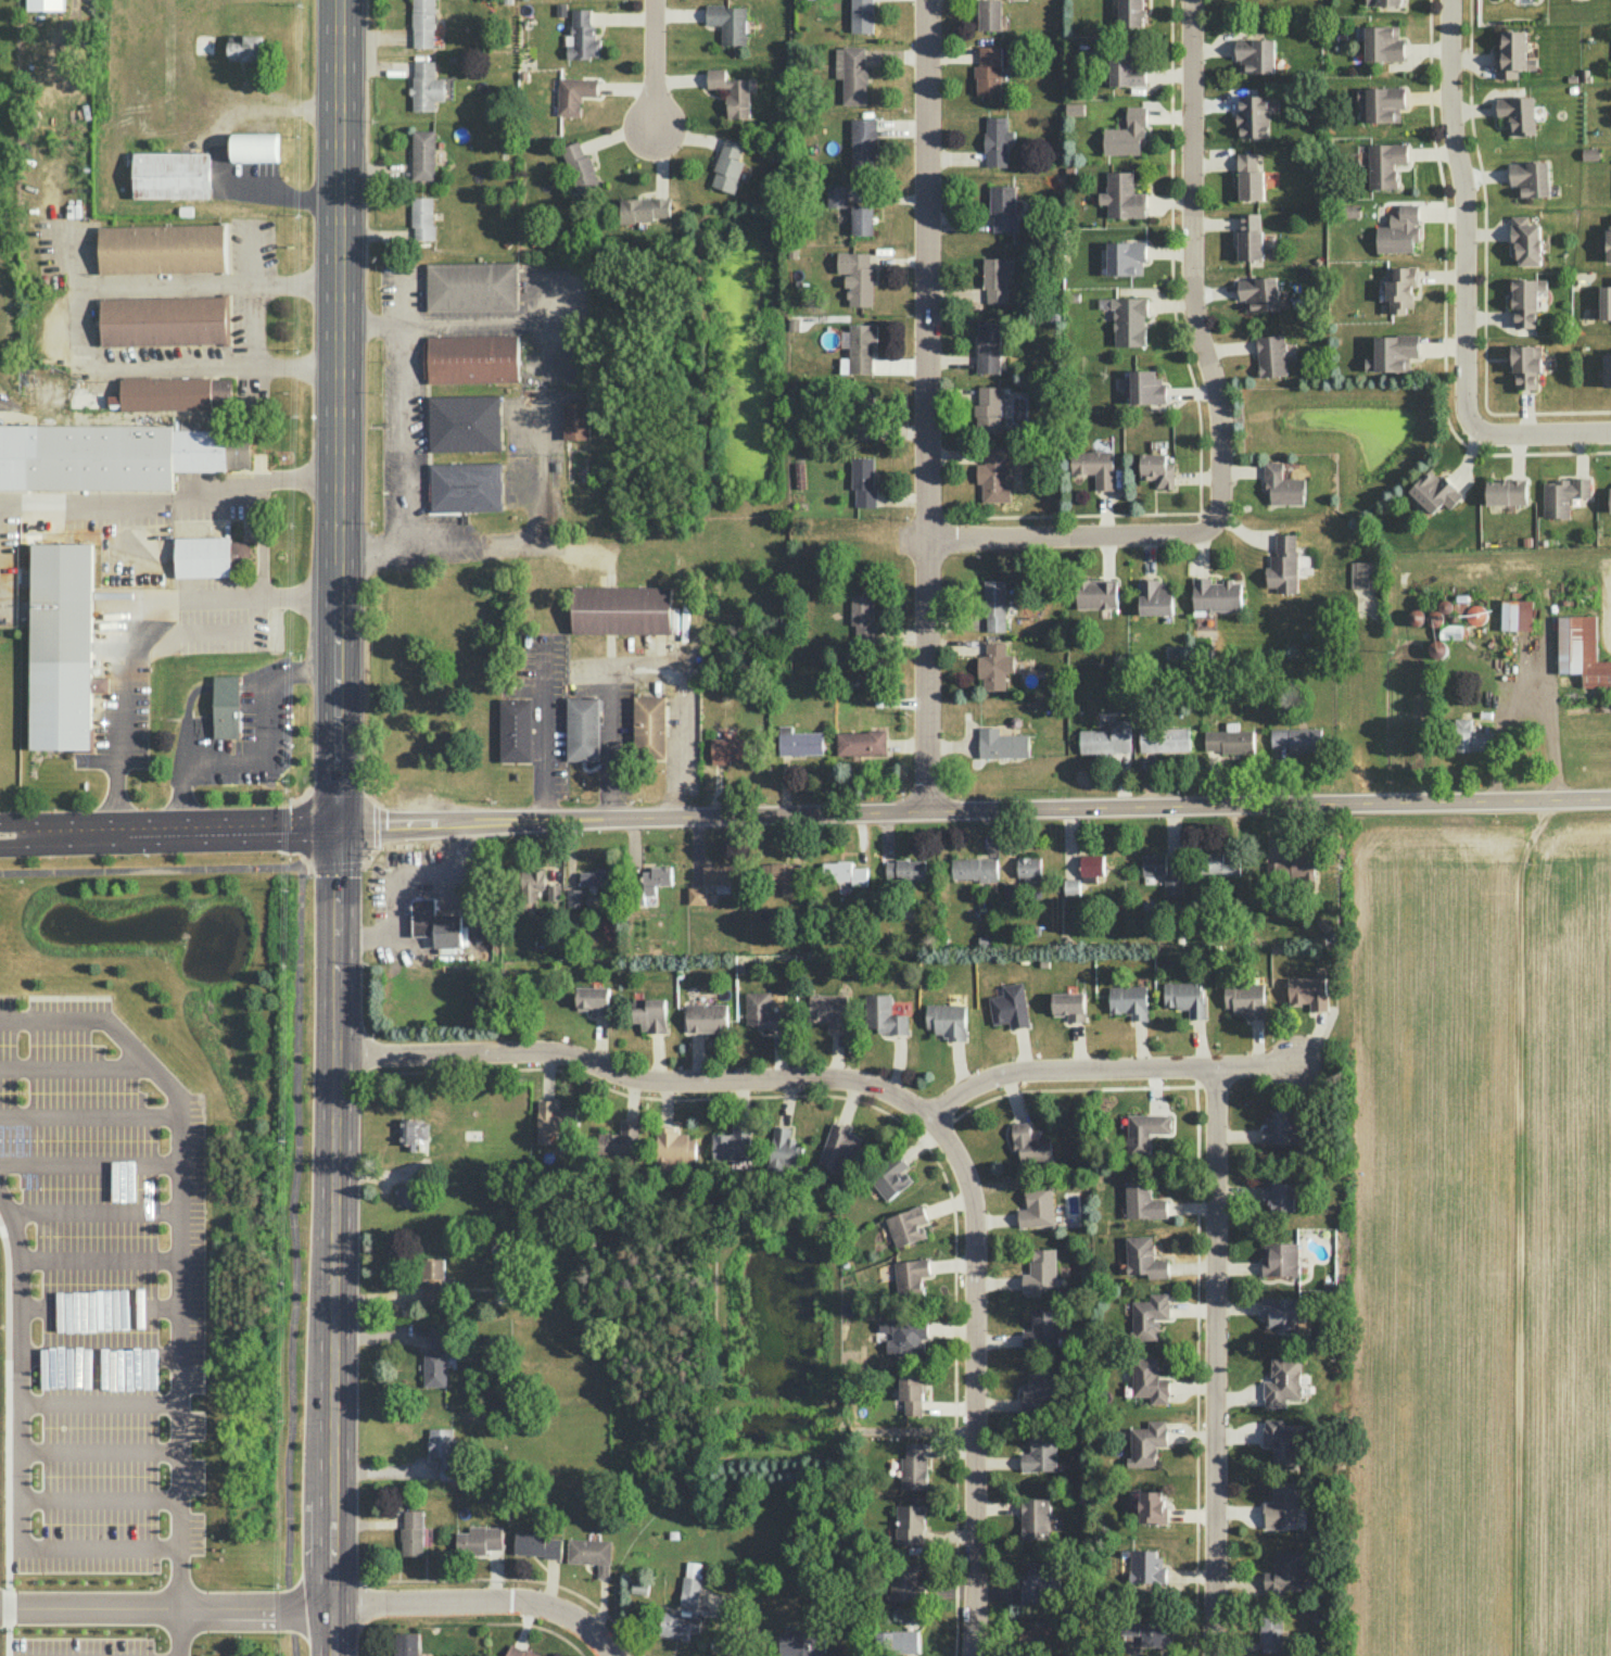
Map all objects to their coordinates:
building: (1383, 2)
building: (45, 4)
building: (1130, 13)
building: (989, 14)
building: (861, 15)
building: (728, 22)
building: (423, 23)
building: (582, 36)
building: (1383, 43)
building: (248, 48)
road: (1212, 49)
building: (1254, 54)
building: (1510, 54)
road: (951, 58)
building: (1126, 65)
road: (654, 66)
building: (988, 68)
building: (854, 75)
road: (1167, 76)
building: (424, 86)
building: (732, 91)
building: (573, 93)
road: (1214, 103)
building: (1383, 103)
building: (1074, 109)
building: (1518, 113)
road: (1167, 116)
building: (1252, 116)
building: (1126, 132)
building: (863, 141)
building: (997, 141)
road: (215, 147)
building: (255, 147)
building: (1590, 153)
building: (422, 154)
road: (955, 159)
road: (1213, 160)
building: (1384, 163)
building: (728, 165)
building: (581, 169)
building: (172, 175)
building: (1250, 176)
building: (1530, 178)
building: (837, 195)
building: (1121, 195)
road: (1168, 203)
building: (1003, 207)
building: (643, 208)
building: (422, 217)
road: (1464, 217)
building: (1610, 217)
building: (862, 219)
road: (959, 220)
road: (1215, 223)
building: (1398, 230)
building: (1250, 239)
building: (1524, 240)
building: (1608, 242)
building: (163, 249)
road: (1168, 252)
road: (252, 257)
building: (1125, 257)
road: (1170, 257)
road: (80, 261)
road: (1191, 263)
building: (857, 276)
building: (994, 279)
building: (472, 287)
building: (1400, 288)
road: (169, 289)
road: (1214, 290)
road: (1140, 291)
road: (955, 292)
building: (1258, 293)
building: (1074, 298)
building: (1524, 302)
building: (1606, 302)
road: (1168, 303)
road: (1152, 317)
building: (164, 320)
building: (1128, 320)
road: (464, 323)
road: (253, 329)
building: (861, 346)
building: (988, 346)
road: (1229, 349)
building: (1393, 352)
building: (1270, 355)
building: (471, 358)
road: (950, 362)
building: (1524, 364)
road: (166, 369)
building: (1607, 369)
road: (295, 370)
building: (1146, 388)
road: (1190, 392)
building: (173, 393)
road: (924, 406)
building: (987, 409)
road: (402, 412)
road: (338, 415)
building: (862, 415)
building: (575, 420)
building: (465, 424)
road: (1544, 432)
building: (112, 455)
road: (953, 455)
building: (1093, 466)
building: (1156, 469)
road: (1241, 472)
building: (799, 475)
building: (991, 475)
road: (1196, 479)
building: (863, 480)
building: (1282, 484)
building: (466, 486)
building: (1434, 491)
building: (1506, 491)
building: (1562, 495)
building: (1609, 497)
road: (170, 505)
road: (1105, 510)
road: (1073, 514)
road: (1246, 529)
road: (1069, 532)
road: (259, 538)
road: (500, 540)
road: (1200, 554)
road: (0, 555)
road: (1149, 555)
building: (208, 556)
road: (1105, 556)
building: (1283, 565)
building: (1362, 574)
building: (1098, 594)
building: (1216, 595)
building: (1154, 597)
building: (994, 605)
building: (621, 609)
building: (1474, 614)
building: (1517, 615)
building: (863, 618)
road: (135, 624)
building: (62, 646)
building: (1581, 650)
road: (650, 666)
building: (994, 666)
building: (227, 706)
building: (649, 728)
building: (582, 729)
building: (515, 730)
road: (545, 736)
building: (1471, 736)
building: (1106, 738)
building: (1164, 738)
building: (1229, 739)
building: (1296, 739)
building: (799, 742)
building: (861, 743)
building: (1001, 744)
building: (728, 749)
road: (263, 753)
road: (367, 793)
road: (973, 812)
road: (47, 826)
traffic signals: (337, 831)
road: (215, 832)
road: (47, 844)
building: (1153, 863)
building: (1220, 865)
building: (1290, 868)
building: (974, 869)
building: (1029, 869)
building: (904, 870)
building: (777, 872)
building: (845, 872)
building: (718, 873)
building: (1084, 873)
building: (596, 876)
building: (656, 878)
building: (532, 883)
road: (404, 885)
building: (1171, 885)
building: (553, 893)
building: (697, 895)
building: (573, 897)
building: (435, 923)
building: (1307, 991)
building: (1185, 998)
building: (1244, 998)
building: (594, 999)
building: (1129, 1001)
building: (1010, 1006)
building: (1069, 1006)
building: (828, 1010)
building: (761, 1011)
building: (649, 1014)
building: (884, 1014)
building: (707, 1017)
building: (947, 1020)
road: (74, 1065)
road: (826, 1077)
road: (295, 1112)
road: (91, 1115)
building: (553, 1120)
building: (1281, 1127)
building: (1145, 1129)
building: (413, 1133)
building: (620, 1140)
building: (733, 1143)
building: (1030, 1143)
building: (675, 1145)
building: (838, 1147)
building: (784, 1148)
road: (91, 1164)
building: (890, 1177)
building: (406, 1196)
building: (1279, 1196)
building: (1142, 1201)
building: (1037, 1206)
road: (93, 1209)
building: (908, 1226)
road: (335, 1242)
road: (182, 1246)
road: (102, 1256)
building: (1143, 1257)
building: (1280, 1259)
building: (1040, 1269)
building: (911, 1275)
building: (435, 1281)
road: (102, 1306)
building: (1281, 1314)
building: (1149, 1316)
building: (1040, 1330)
building: (904, 1333)
road: (103, 1353)
building: (439, 1356)
road: (1215, 1363)
building: (1149, 1380)
building: (1282, 1381)
road: (973, 1382)
building: (1040, 1390)
building: (912, 1395)
road: (102, 1402)
road: (5, 1441)
building: (1146, 1443)
building: (1281, 1443)
building: (442, 1449)
road: (101, 1450)
road: (23, 1452)
building: (1040, 1453)
building: (913, 1467)
road: (101, 1497)
building: (1152, 1506)
building: (1281, 1506)
building: (1035, 1518)
building: (910, 1524)
building: (411, 1532)
building: (479, 1540)
building: (537, 1544)
building: (591, 1554)
building: (1146, 1566)
building: (1286, 1569)
building: (1039, 1579)
building: (905, 1582)
building: (690, 1583)
road: (482, 1601)
road: (167, 1608)
building: (678, 1625)
road: (179, 1632)
building: (1041, 1632)
building: (1271, 1633)
building: (897, 1641)
building: (802, 1642)
building: (406, 1644)
building: (518, 1652)

